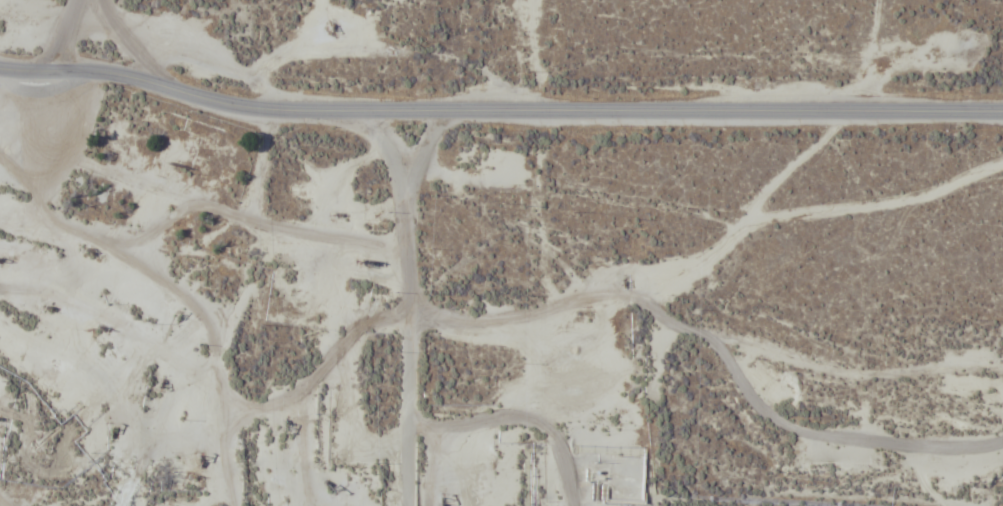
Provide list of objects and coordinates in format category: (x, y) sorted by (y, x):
road: (53, 63)
road: (499, 110)
road: (412, 303)
road: (137, 489)

